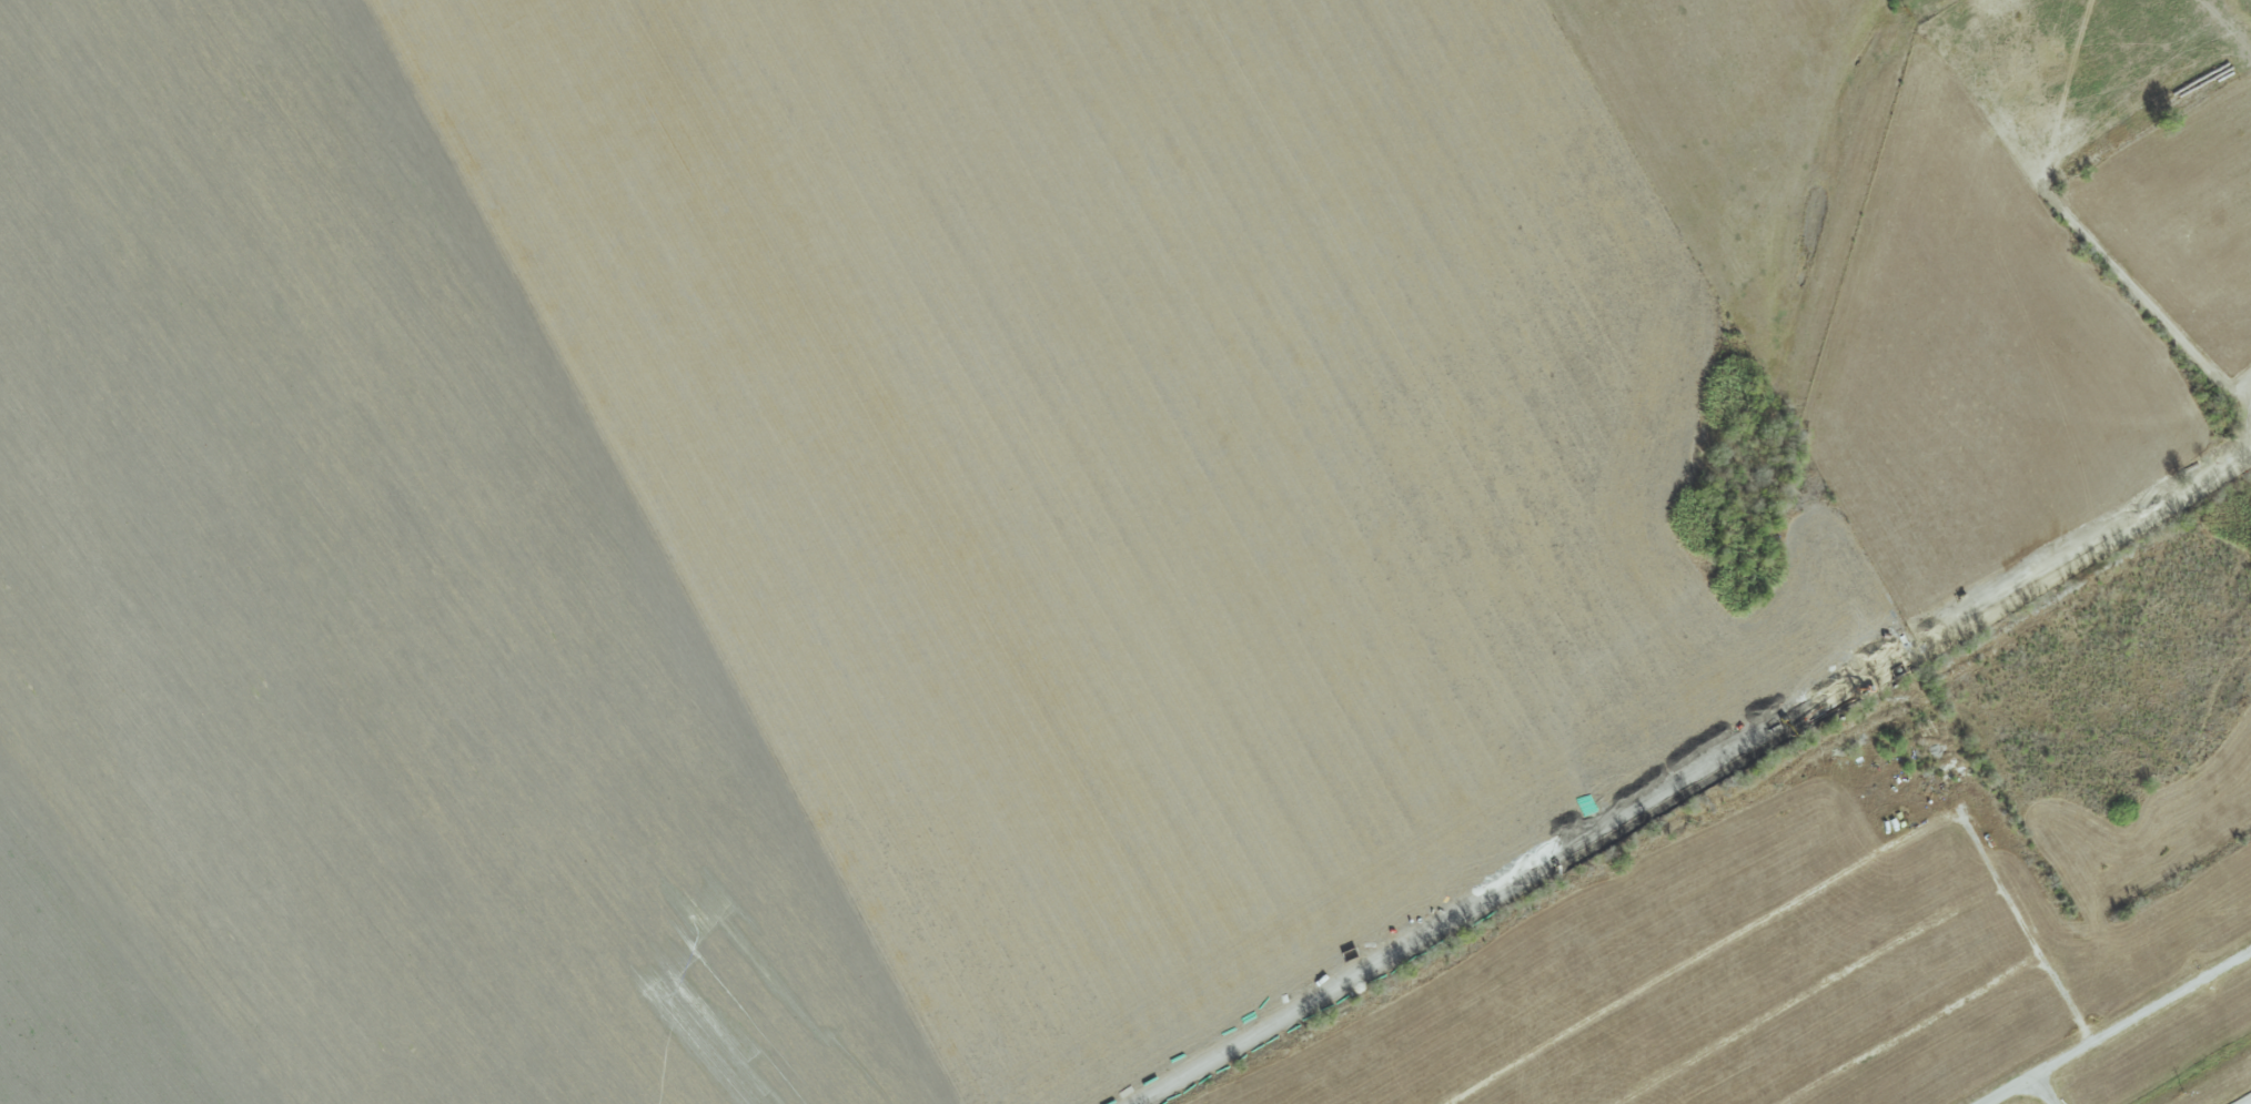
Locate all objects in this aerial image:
road: (1816, 890)
road: (1805, 994)
road: (2117, 1026)
road: (1908, 1032)
road: (2047, 1088)

